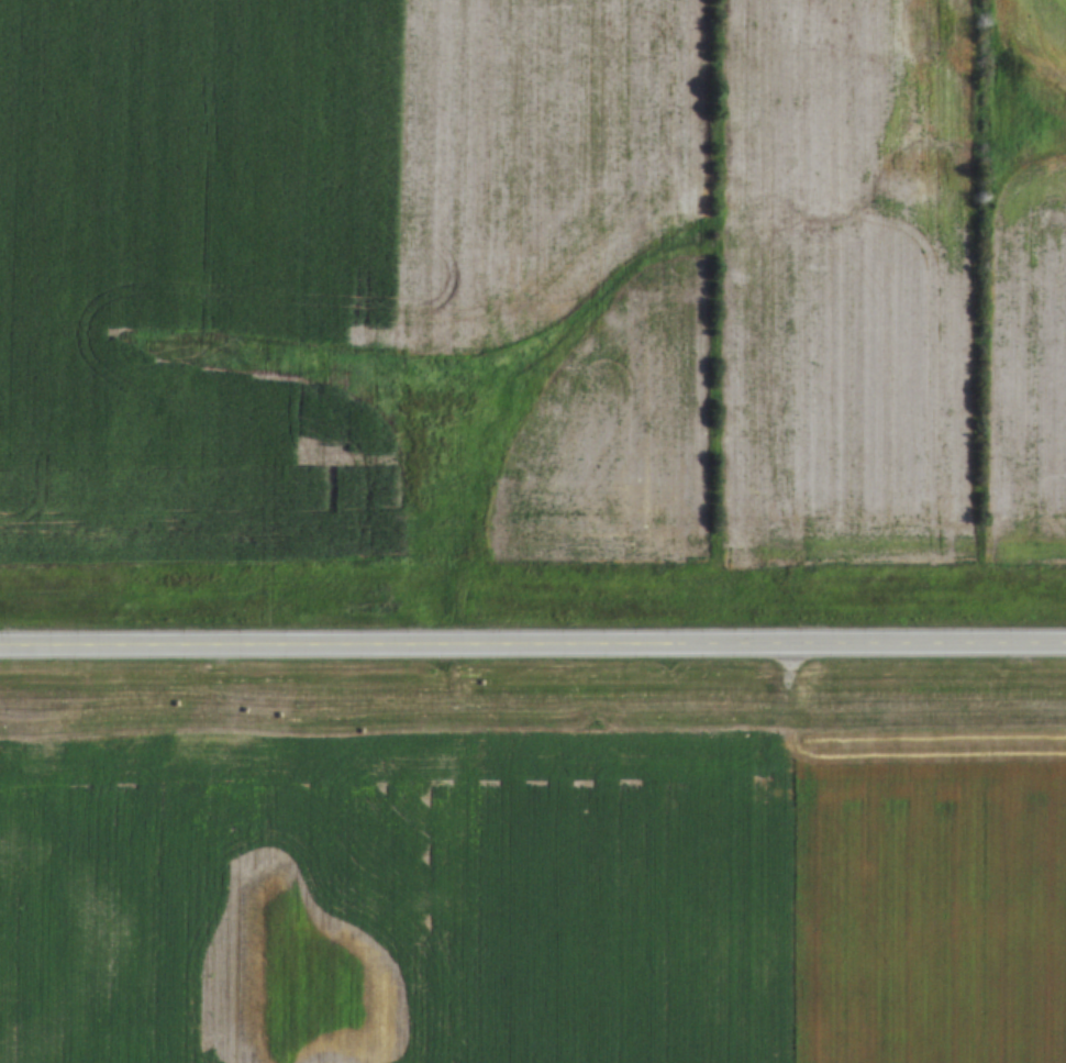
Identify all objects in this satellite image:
road: (532, 646)

